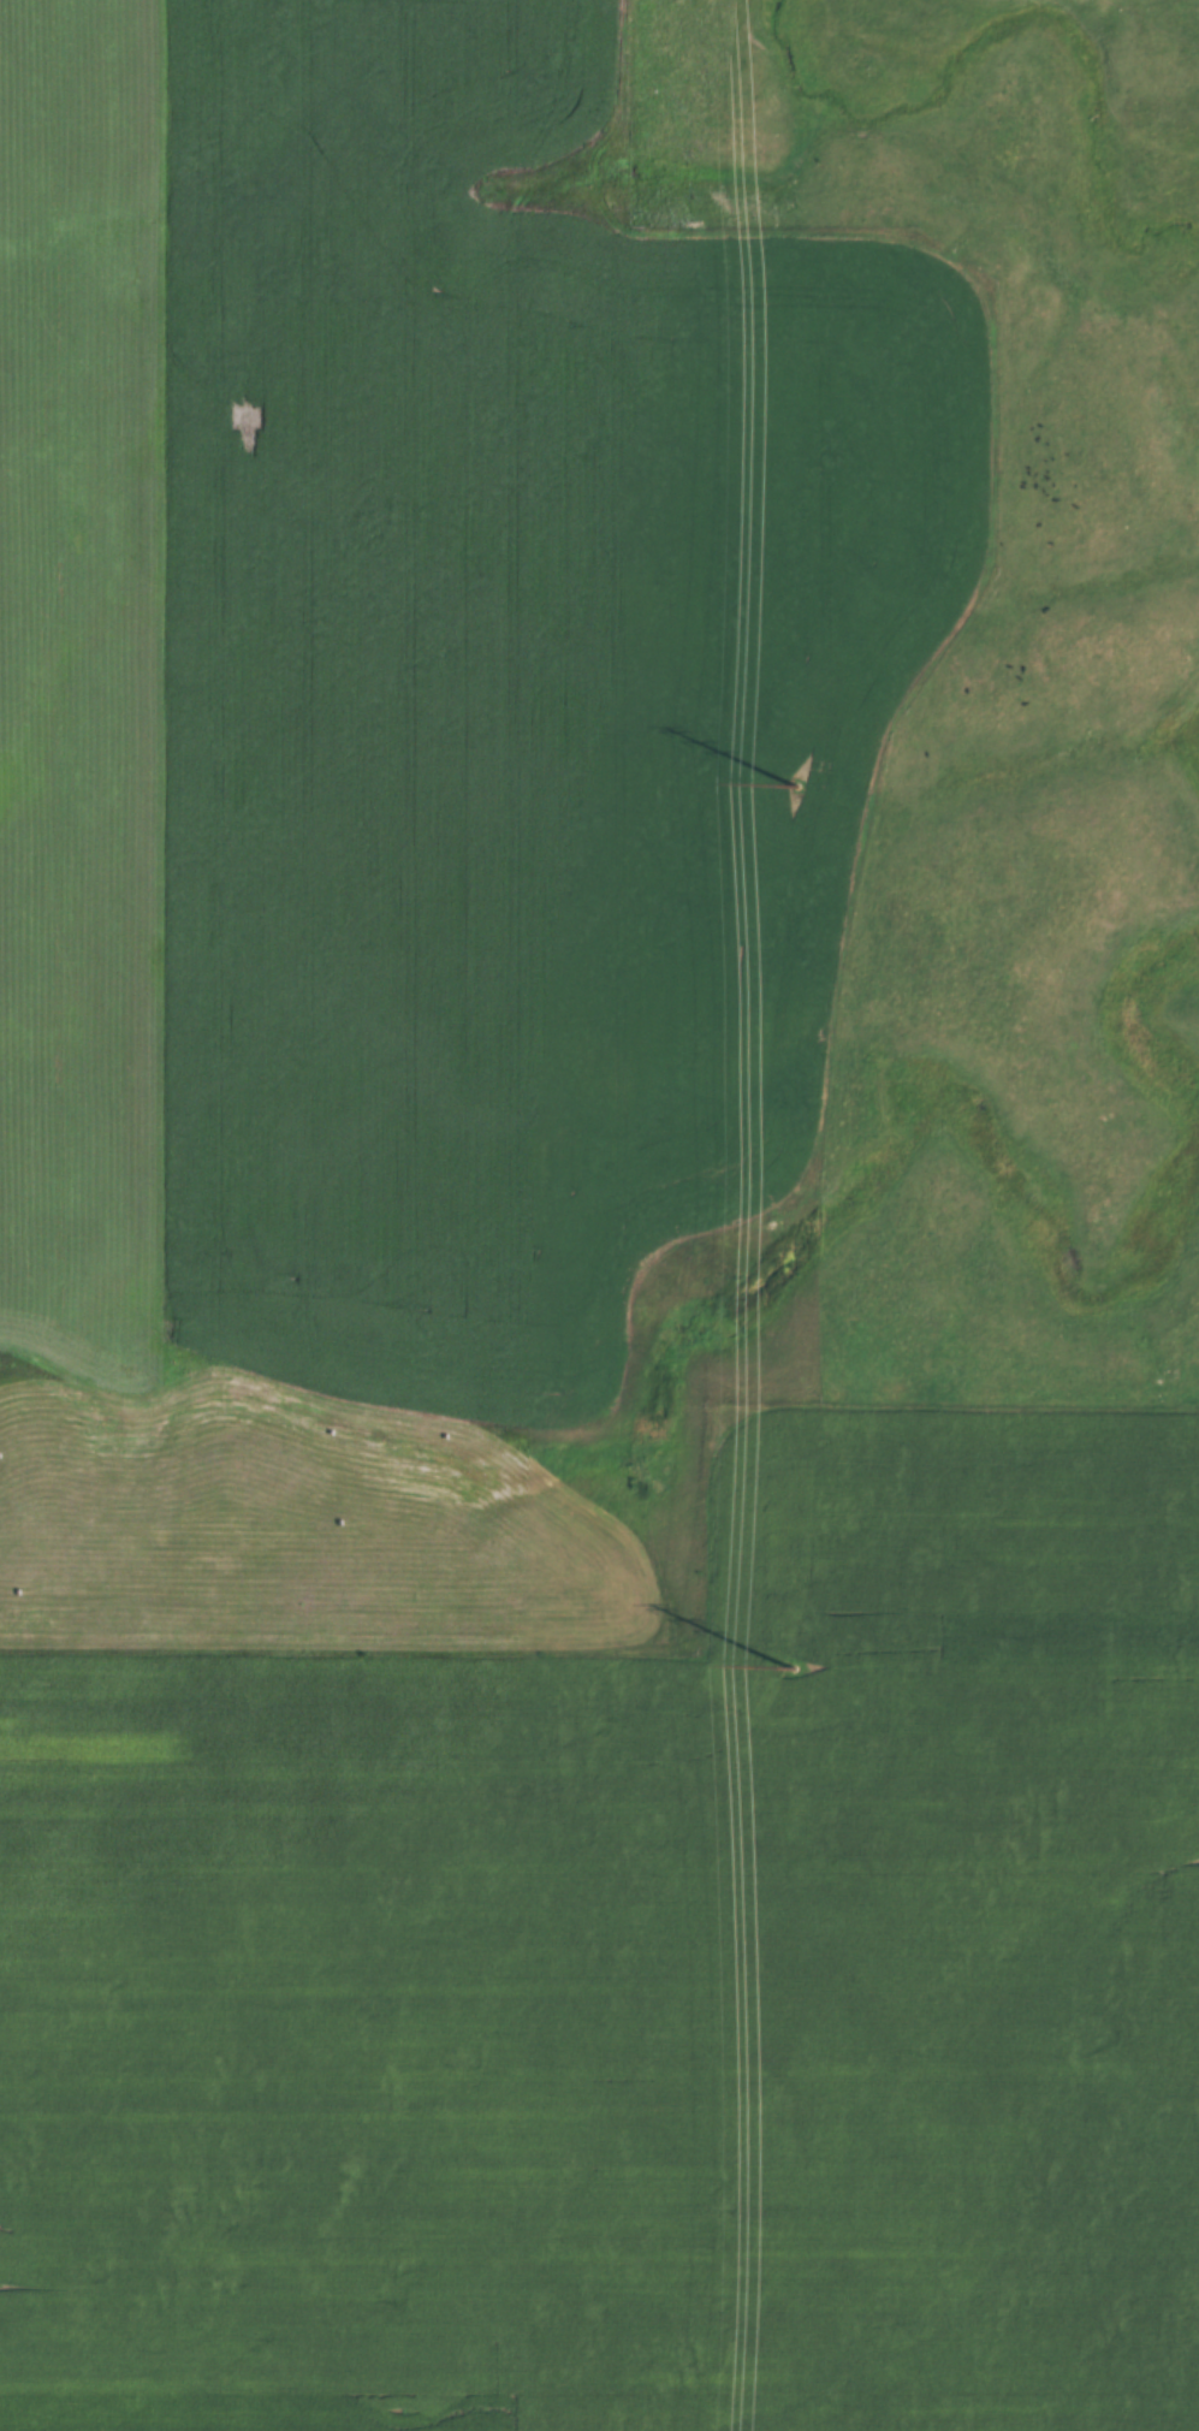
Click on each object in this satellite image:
power tower: (795, 782)
power tower: (794, 1665)

